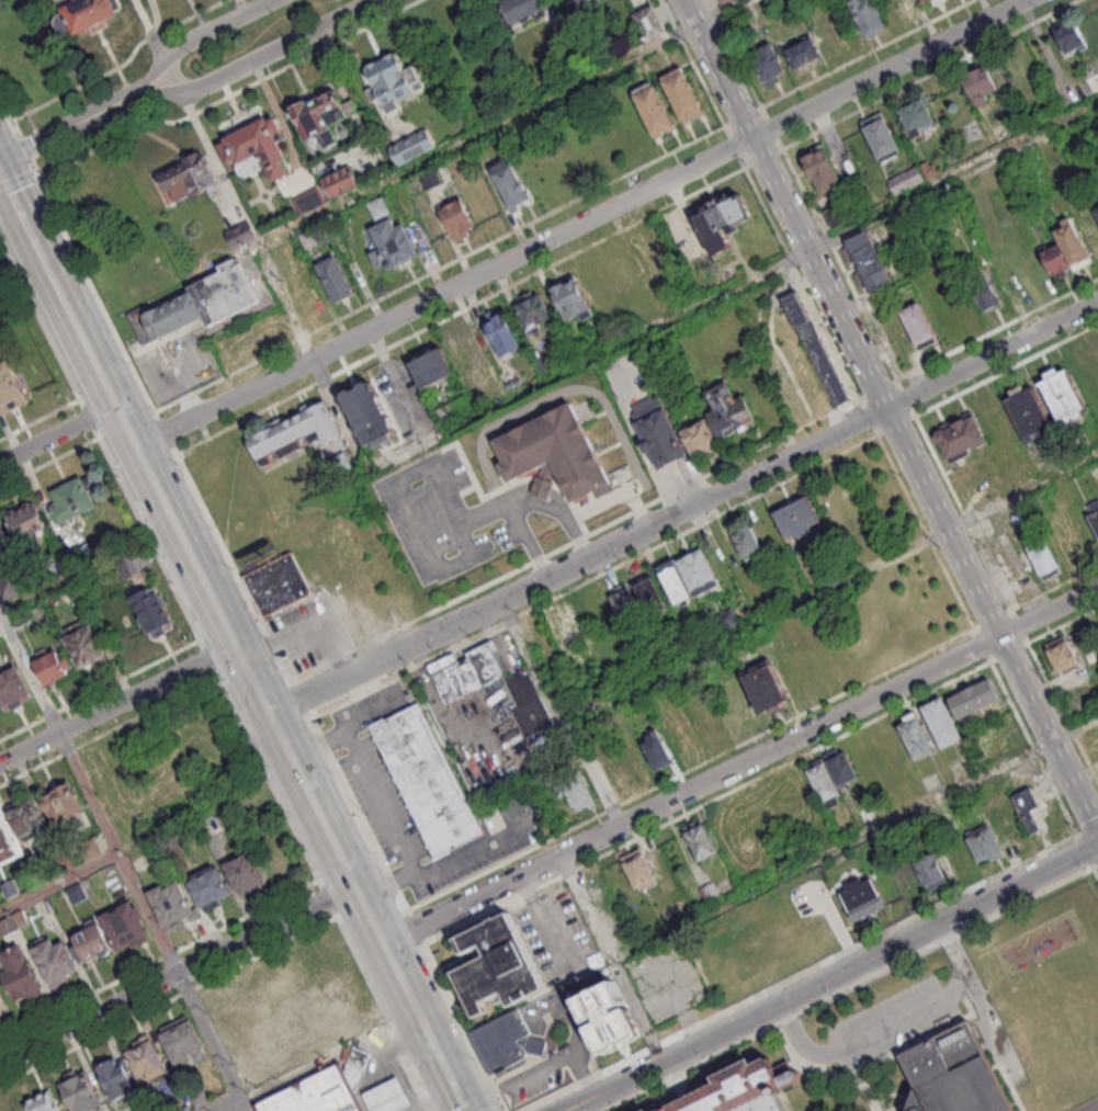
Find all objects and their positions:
building: (585, 1)
building: (924, 1)
building: (937, 1)
building: (724, 2)
building: (518, 9)
building: (898, 9)
building: (83, 15)
building: (869, 16)
building: (648, 22)
road: (149, 30)
building: (1068, 33)
building: (802, 56)
building: (767, 64)
road: (123, 66)
building: (641, 68)
road: (714, 69)
road: (886, 69)
building: (392, 82)
building: (978, 82)
building: (1093, 82)
road: (176, 91)
road: (233, 94)
building: (682, 94)
building: (655, 110)
road: (2, 113)
building: (322, 113)
building: (916, 114)
road: (8, 121)
road: (67, 128)
building: (881, 135)
building: (414, 144)
building: (256, 148)
road: (24, 149)
building: (929, 169)
building: (822, 171)
building: (189, 177)
building: (429, 179)
road: (19, 180)
building: (906, 180)
building: (339, 181)
building: (511, 182)
building: (167, 193)
building: (307, 199)
building: (377, 205)
road: (18, 207)
building: (1096, 211)
building: (838, 213)
building: (457, 218)
building: (721, 219)
building: (1088, 228)
building: (239, 235)
building: (389, 241)
building: (1072, 242)
road: (43, 259)
building: (1055, 259)
building: (869, 260)
building: (335, 277)
park: (9, 287)
road: (443, 292)
building: (984, 293)
building: (570, 297)
building: (199, 305)
building: (532, 309)
road: (39, 321)
building: (918, 326)
building: (502, 333)
road: (83, 340)
building: (462, 348)
building: (814, 348)
building: (1096, 350)
building: (547, 364)
building: (431, 366)
building: (494, 386)
building: (10, 392)
building: (1061, 394)
building: (455, 409)
building: (728, 409)
building: (1027, 413)
building: (369, 415)
road: (89, 418)
road: (39, 420)
building: (324, 420)
road: (160, 422)
building: (306, 426)
building: (655, 432)
building: (292, 433)
road: (58, 434)
building: (699, 437)
building: (959, 438)
building: (278, 440)
building: (262, 447)
building: (553, 454)
road: (49, 462)
road: (375, 467)
road: (428, 469)
road: (922, 488)
road: (613, 497)
building: (72, 502)
road: (683, 507)
road: (558, 513)
building: (1093, 513)
building: (799, 515)
parking lot: (464, 518)
building: (27, 525)
road: (149, 540)
building: (3, 541)
road: (574, 541)
building: (746, 542)
building: (76, 558)
building: (1044, 559)
building: (129, 568)
building: (60, 571)
building: (699, 571)
road: (595, 576)
building: (673, 582)
building: (278, 585)
road: (830, 588)
building: (9, 589)
building: (648, 592)
building: (53, 597)
building: (625, 604)
building: (152, 611)
road: (1, 613)
building: (20, 617)
building: (726, 617)
road: (1062, 623)
road: (308, 628)
building: (563, 632)
building: (86, 647)
building: (1063, 653)
road: (208, 660)
building: (52, 668)
road: (31, 669)
building: (464, 670)
building: (765, 687)
building: (13, 690)
road: (99, 692)
building: (972, 698)
road: (302, 699)
building: (527, 703)
road: (116, 704)
road: (372, 710)
road: (269, 712)
road: (559, 712)
road: (1061, 712)
building: (941, 722)
road: (107, 733)
building: (914, 735)
building: (656, 748)
parking lot: (360, 759)
road: (740, 764)
building: (840, 767)
building: (426, 778)
road: (268, 780)
building: (822, 782)
building: (573, 789)
road: (377, 798)
building: (1023, 802)
road: (705, 804)
building: (67, 813)
road: (358, 816)
building: (26, 821)
building: (211, 827)
road: (1086, 829)
building: (699, 839)
road: (854, 840)
building: (985, 842)
building: (4, 843)
road: (474, 849)
road: (1083, 849)
building: (91, 851)
road: (120, 852)
building: (958, 855)
building: (158, 857)
building: (65, 862)
building: (636, 866)
building: (929, 870)
road: (1095, 870)
building: (246, 875)
road: (60, 883)
building: (10, 891)
building: (211, 891)
building: (861, 897)
road: (327, 898)
road: (1027, 900)
building: (174, 908)
building: (22, 918)
building: (9, 927)
building: (126, 928)
road: (414, 929)
road: (952, 937)
parking lot: (556, 938)
building: (92, 944)
road: (610, 959)
road: (158, 960)
building: (496, 963)
building: (56, 964)
road: (177, 972)
road: (795, 972)
building: (21, 976)
road: (831, 976)
parking lot: (664, 977)
road: (978, 991)
road: (962, 994)
road: (167, 1001)
building: (3, 1006)
road: (383, 1014)
building: (607, 1019)
parking lot: (892, 1020)
road: (776, 1024)
road: (462, 1027)
building: (284, 1031)
road: (868, 1034)
road: (210, 1035)
road: (430, 1035)
building: (505, 1041)
building: (183, 1042)
road: (910, 1045)
parking lot: (573, 1046)
road: (995, 1054)
building: (148, 1062)
building: (356, 1066)
road: (535, 1070)
road: (834, 1073)
building: (954, 1076)
road: (450, 1077)
building: (118, 1081)
road: (1017, 1084)
building: (744, 1091)
building: (81, 1093)
building: (316, 1096)
building: (389, 1098)
building: (201, 1100)
building: (44, 1103)
road: (228, 1104)
road: (244, 1104)
park: (1087, 1106)
road: (465, 1107)
parking lot: (245, 1108)
road: (498, 1110)

